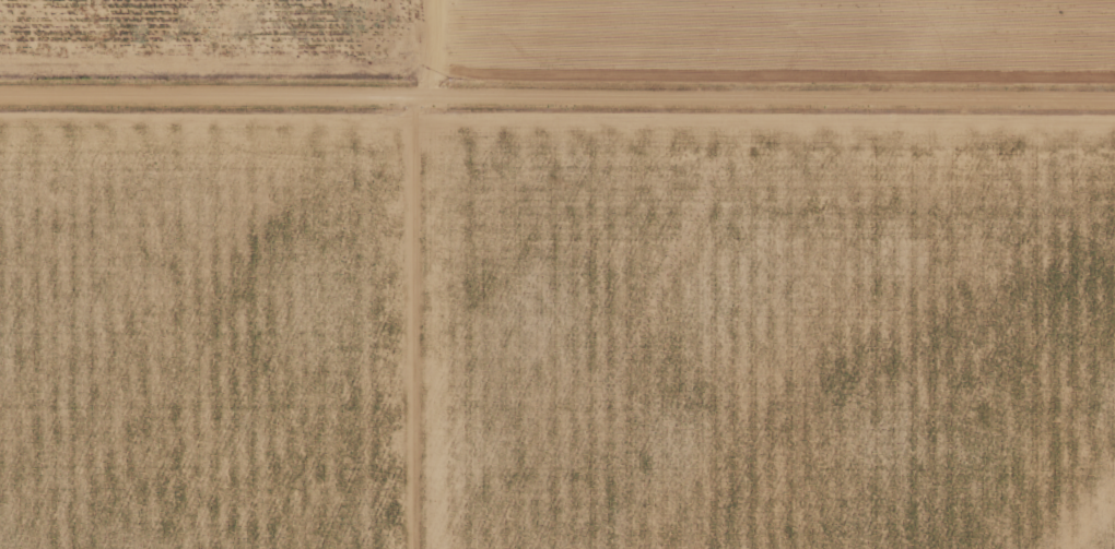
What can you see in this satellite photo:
road: (556, 94)
road: (413, 321)

